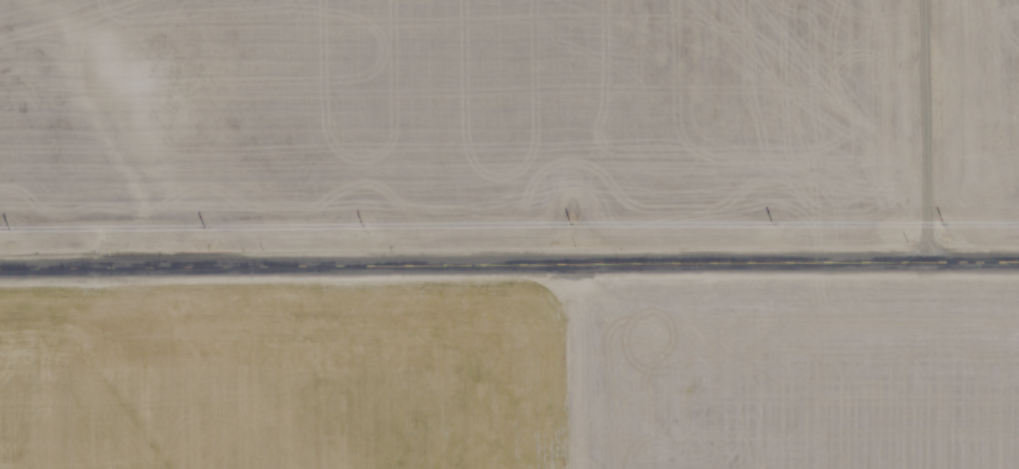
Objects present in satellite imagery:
road: (921, 128)
road: (509, 257)

